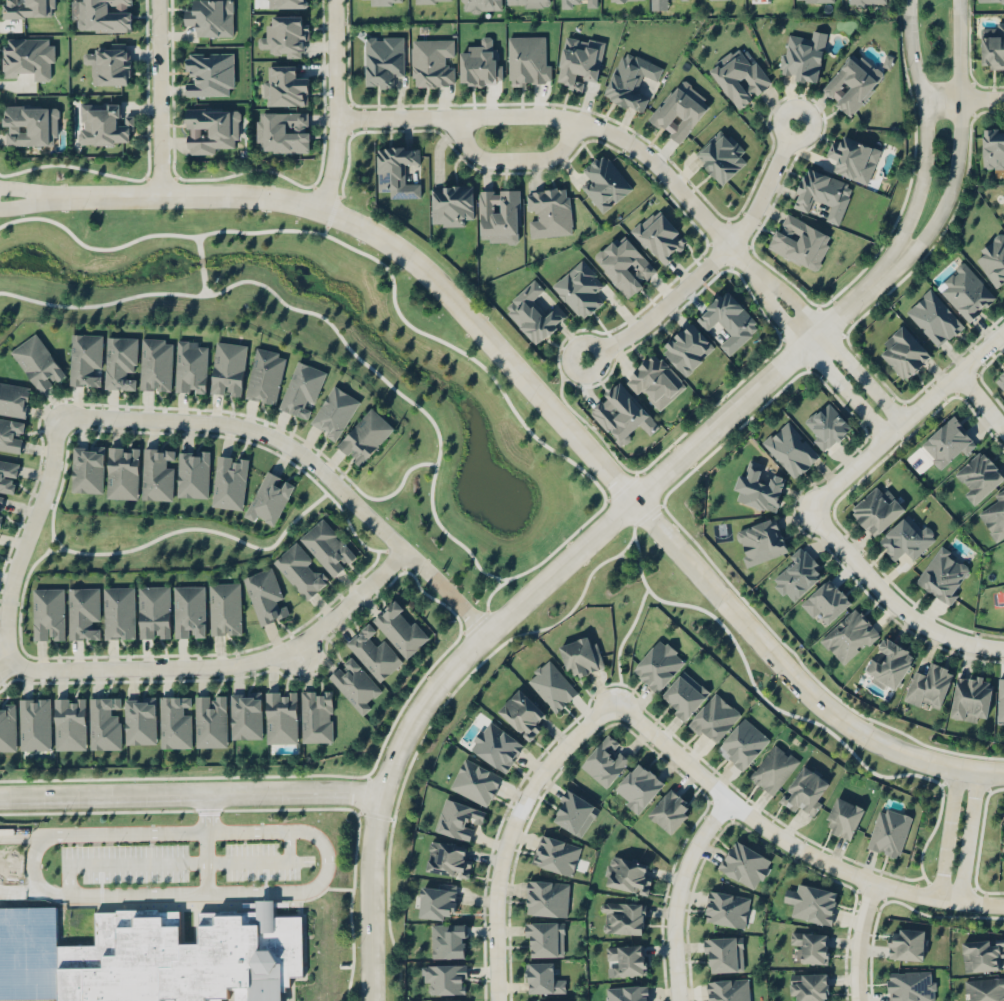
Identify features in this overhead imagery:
building: (627, 0)
building: (814, 0)
building: (990, 0)
building: (431, 1)
building: (385, 2)
building: (867, 2)
building: (285, 3)
building: (527, 3)
building: (569, 3)
building: (479, 5)
building: (28, 8)
building: (104, 15)
building: (210, 17)
building: (285, 35)
building: (992, 45)
building: (803, 55)
building: (28, 57)
building: (528, 59)
building: (382, 60)
building: (580, 60)
building: (432, 62)
building: (110, 63)
building: (479, 63)
building: (209, 73)
building: (739, 76)
building: (630, 80)
building: (852, 82)
building: (283, 85)
road: (156, 97)
road: (963, 98)
road: (335, 105)
building: (679, 110)
road: (574, 119)
building: (103, 123)
building: (31, 125)
building: (211, 128)
building: (282, 131)
road: (924, 138)
building: (993, 147)
road: (958, 148)
building: (720, 155)
building: (853, 158)
road: (514, 159)
building: (397, 170)
building: (603, 181)
road: (26, 190)
building: (822, 193)
building: (451, 203)
road: (26, 204)
building: (549, 211)
building: (499, 215)
road: (328, 223)
building: (659, 237)
building: (799, 241)
road: (392, 244)
road: (198, 245)
road: (712, 258)
building: (993, 259)
road: (201, 261)
building: (624, 265)
road: (204, 281)
building: (580, 289)
building: (965, 291)
building: (533, 313)
building: (934, 317)
road: (403, 318)
road: (327, 320)
building: (728, 320)
road: (832, 340)
building: (687, 348)
building: (903, 352)
road: (814, 356)
building: (86, 359)
building: (37, 362)
building: (120, 362)
building: (155, 364)
building: (191, 366)
building: (228, 368)
building: (265, 375)
building: (999, 378)
building: (655, 381)
building: (302, 389)
building: (14, 398)
road: (980, 401)
building: (334, 411)
road: (912, 413)
building: (622, 414)
building: (825, 425)
building: (11, 434)
building: (365, 435)
building: (946, 441)
building: (790, 448)
road: (306, 457)
building: (87, 468)
building: (122, 471)
building: (157, 473)
building: (193, 473)
building: (8, 475)
building: (979, 475)
building: (229, 481)
building: (758, 487)
road: (385, 495)
building: (268, 498)
road: (619, 499)
building: (1, 503)
building: (877, 509)
building: (994, 514)
road: (633, 518)
road: (209, 529)
road: (28, 536)
building: (906, 537)
building: (760, 541)
building: (1003, 543)
building: (327, 546)
road: (625, 546)
road: (638, 550)
building: (300, 570)
building: (944, 574)
building: (797, 575)
road: (496, 581)
road: (536, 587)
road: (582, 590)
building: (266, 596)
road: (890, 598)
building: (825, 600)
building: (225, 608)
building: (189, 610)
building: (154, 611)
building: (83, 612)
building: (119, 612)
building: (48, 613)
building: (400, 627)
building: (849, 636)
road: (621, 641)
building: (373, 652)
road: (4, 656)
building: (581, 656)
building: (889, 663)
road: (223, 665)
building: (658, 665)
road: (793, 676)
building: (355, 684)
building: (928, 684)
building: (551, 685)
building: (684, 695)
building: (970, 696)
building: (1000, 699)
building: (522, 713)
building: (246, 714)
building: (316, 715)
building: (281, 716)
building: (714, 718)
building: (140, 720)
building: (211, 720)
building: (175, 721)
building: (35, 722)
building: (105, 722)
building: (69, 723)
building: (8, 726)
building: (742, 743)
building: (496, 745)
building: (604, 761)
building: (773, 768)
road: (283, 774)
building: (476, 781)
road: (374, 783)
building: (638, 786)
road: (972, 788)
building: (806, 789)
road: (191, 790)
building: (669, 809)
building: (574, 812)
building: (457, 817)
building: (843, 817)
building: (889, 831)
road: (510, 832)
road: (947, 832)
road: (968, 835)
road: (208, 841)
road: (789, 841)
building: (555, 853)
road: (34, 855)
building: (447, 858)
parking lot: (262, 862)
parking lot: (124, 863)
building: (744, 864)
road: (326, 865)
building: (626, 874)
road: (678, 893)
building: (548, 897)
building: (437, 901)
building: (812, 903)
building: (726, 908)
building: (621, 917)
building: (21, 935)
building: (545, 938)
building: (448, 940)
road: (860, 940)
building: (907, 944)
building: (812, 946)
building: (723, 952)
building: (982, 953)
building: (180, 958)
building: (628, 958)
building: (20, 974)
building: (445, 977)
building: (542, 978)
building: (809, 985)
building: (910, 985)
building: (728, 989)
building: (984, 989)
building: (626, 993)
building: (32, 995)
building: (447, 1000)
building: (547, 1000)

